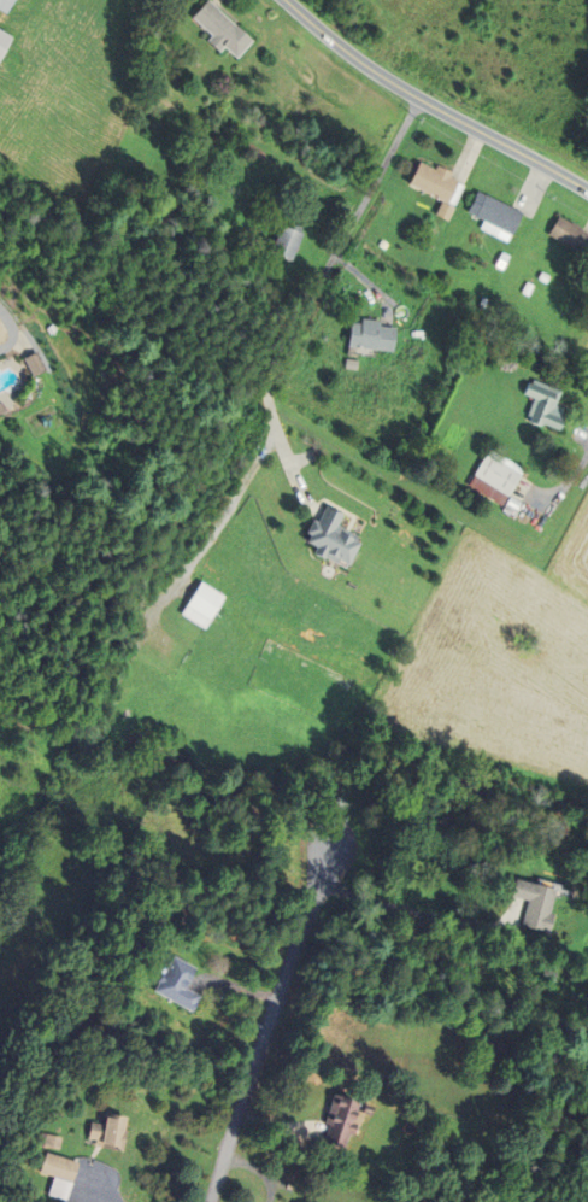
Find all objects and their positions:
building: (5, 5)
building: (222, 30)
building: (4, 41)
road: (429, 106)
building: (436, 186)
building: (498, 216)
building: (569, 235)
building: (286, 241)
road: (316, 295)
road: (12, 334)
building: (371, 334)
building: (34, 364)
building: (543, 405)
building: (1, 407)
building: (495, 476)
road: (560, 488)
building: (330, 536)
building: (201, 605)
building: (537, 904)
road: (411, 913)
building: (178, 985)
road: (269, 1022)
building: (341, 1124)
building: (111, 1133)
building: (60, 1175)

